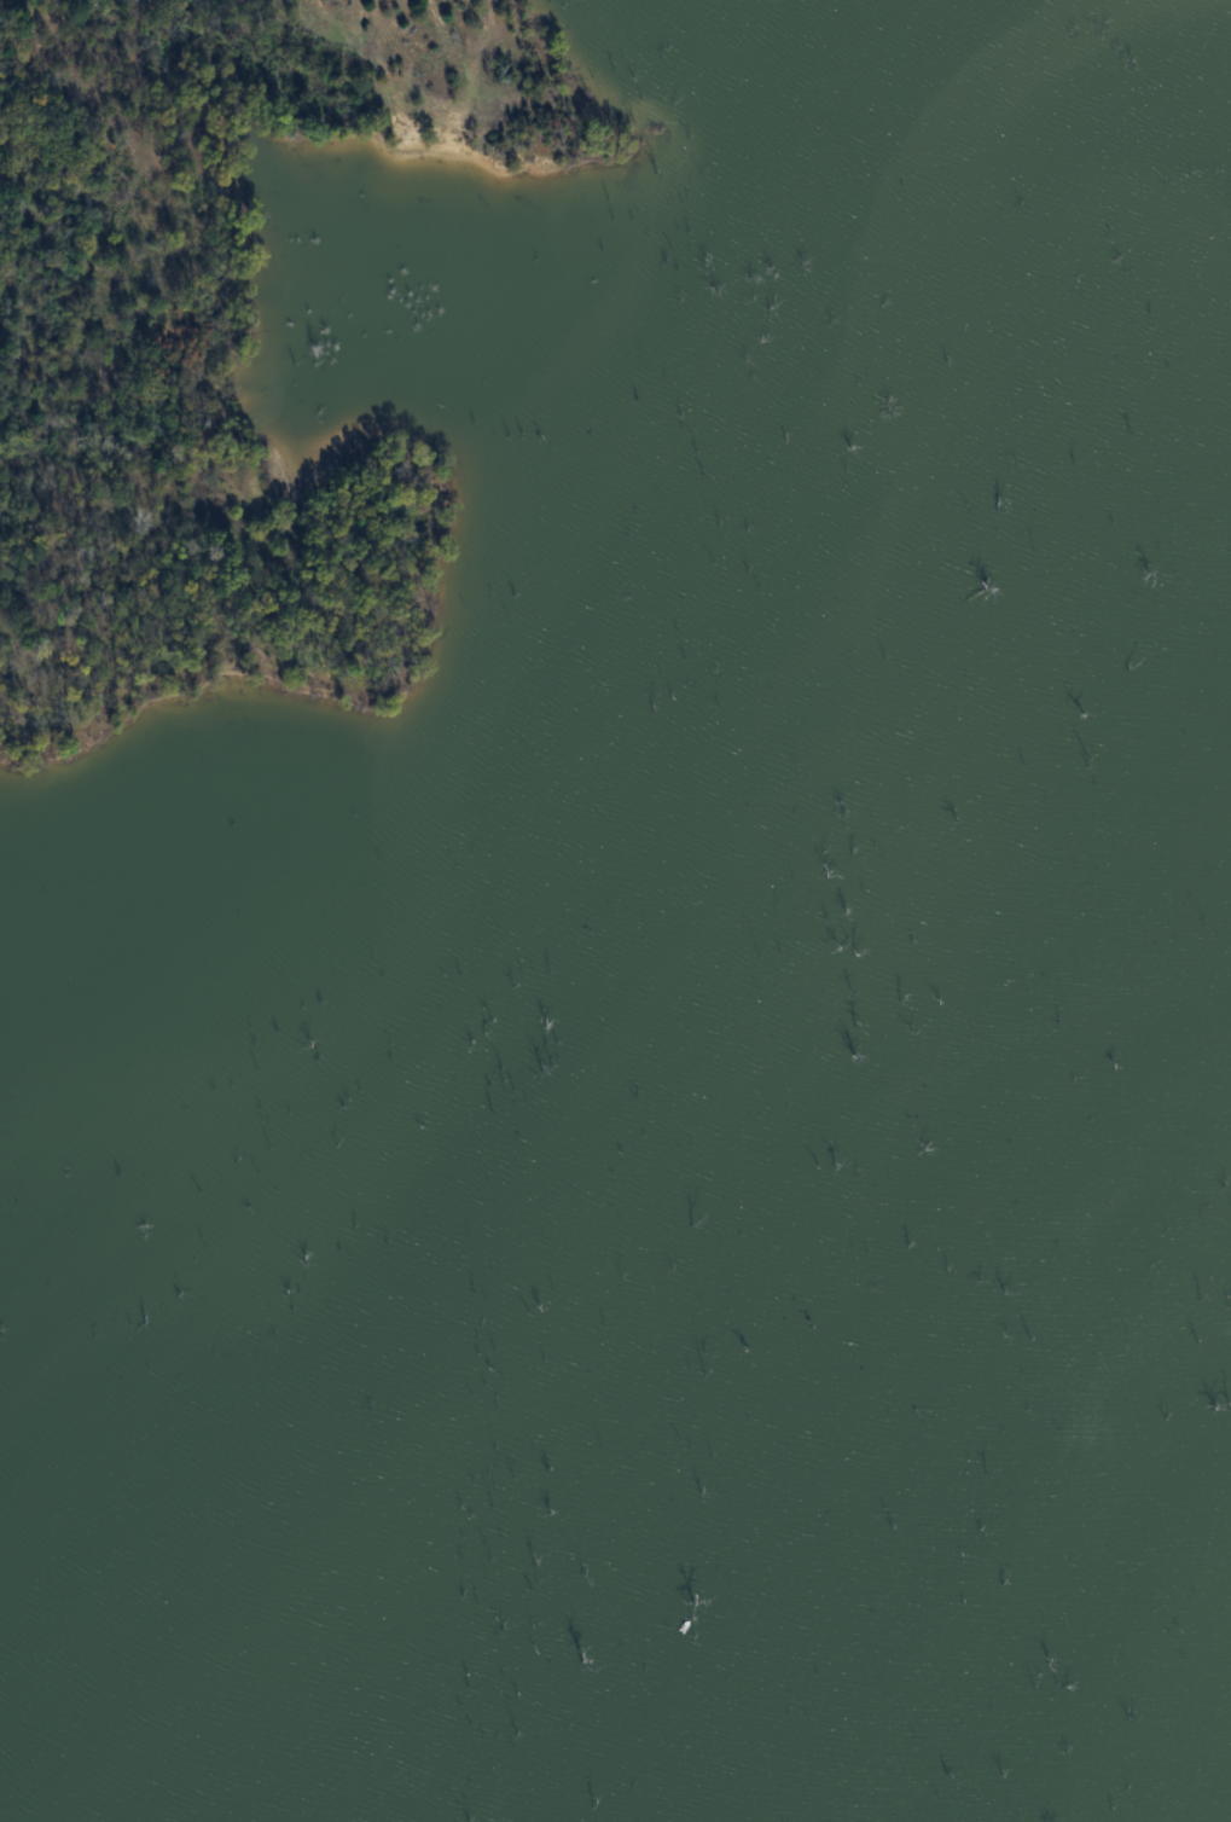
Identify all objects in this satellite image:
building: (821, 1568)

